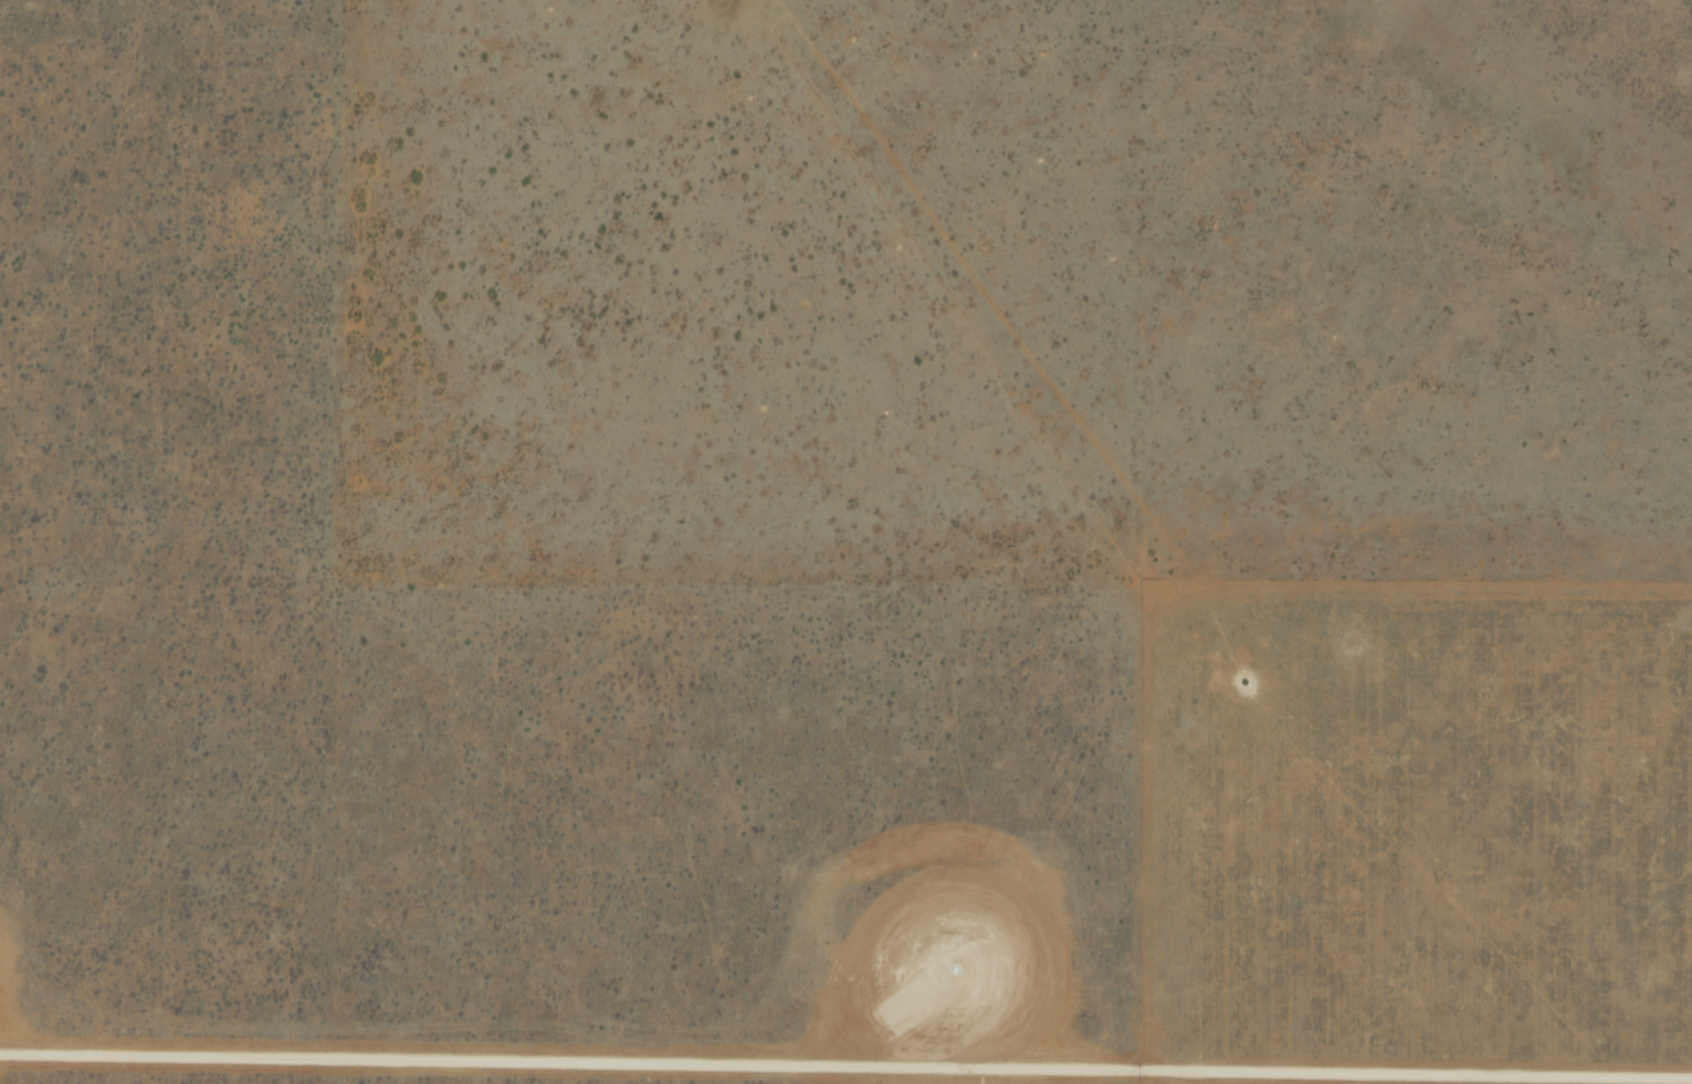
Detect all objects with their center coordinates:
wind turbine: (927, 999)

